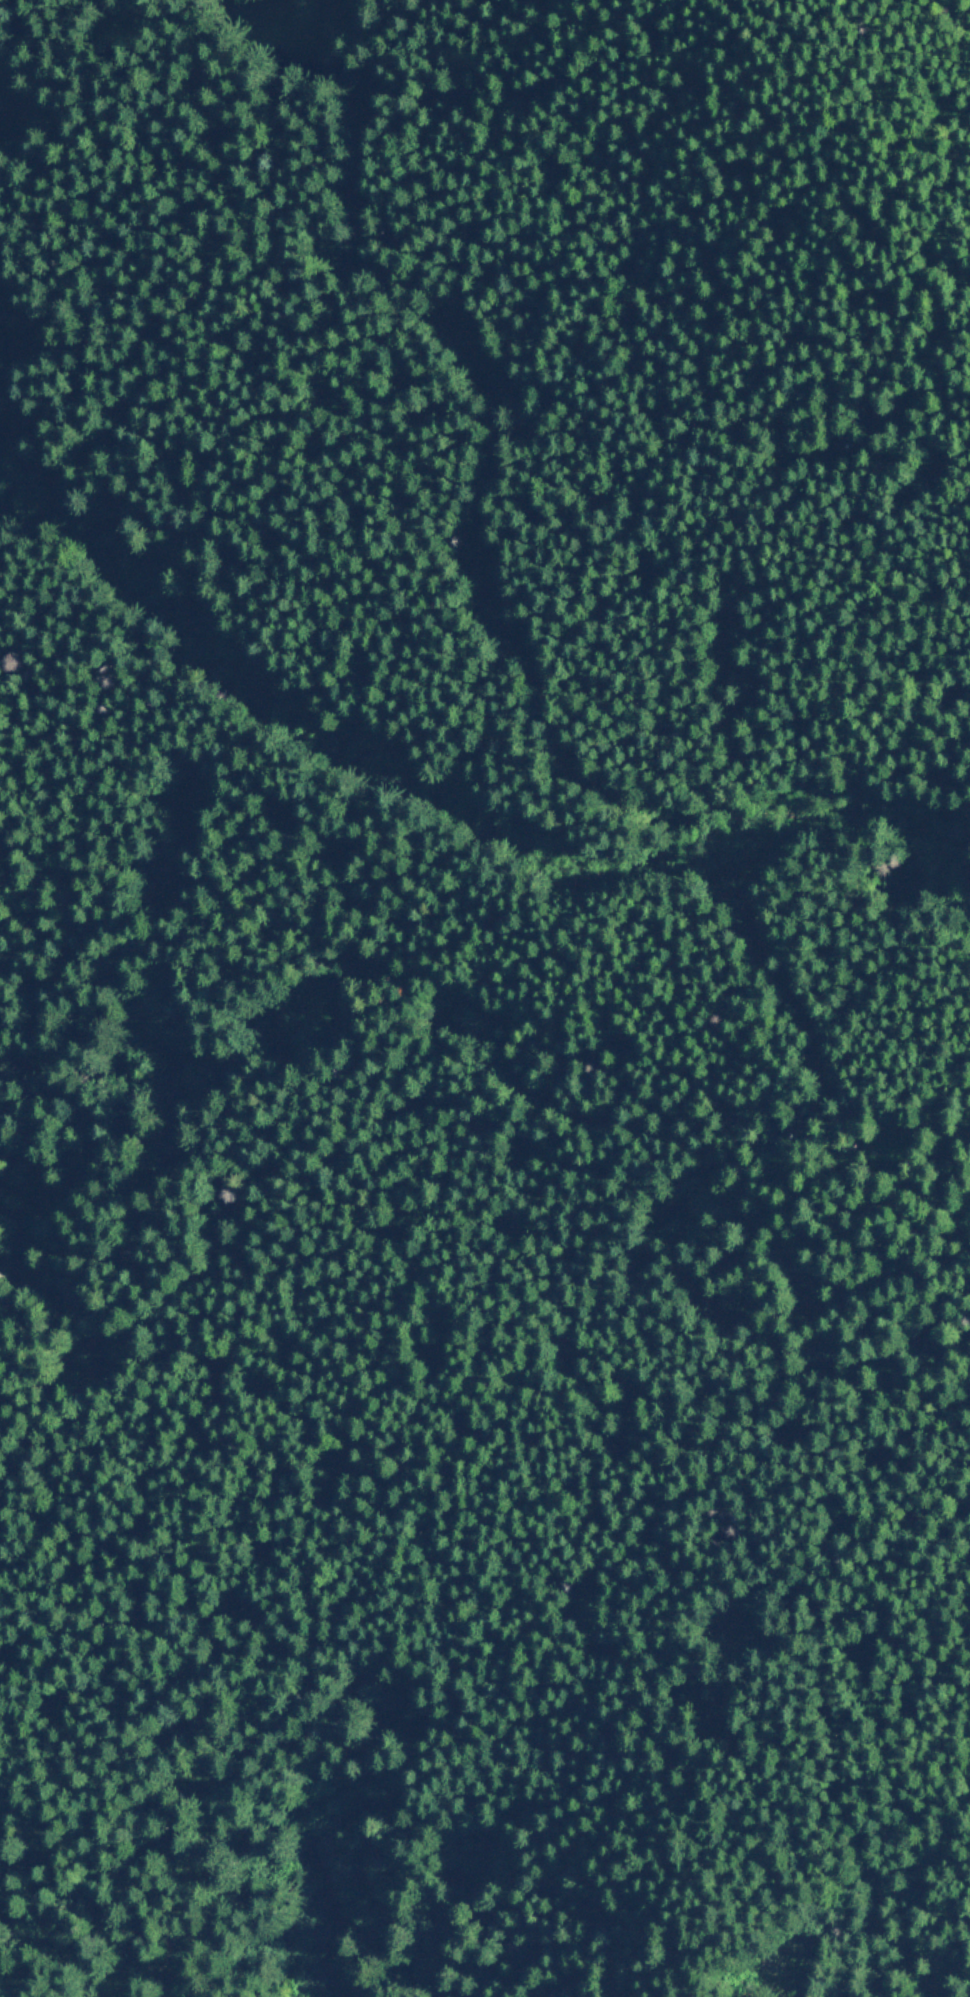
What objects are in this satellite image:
road: (441, 816)

